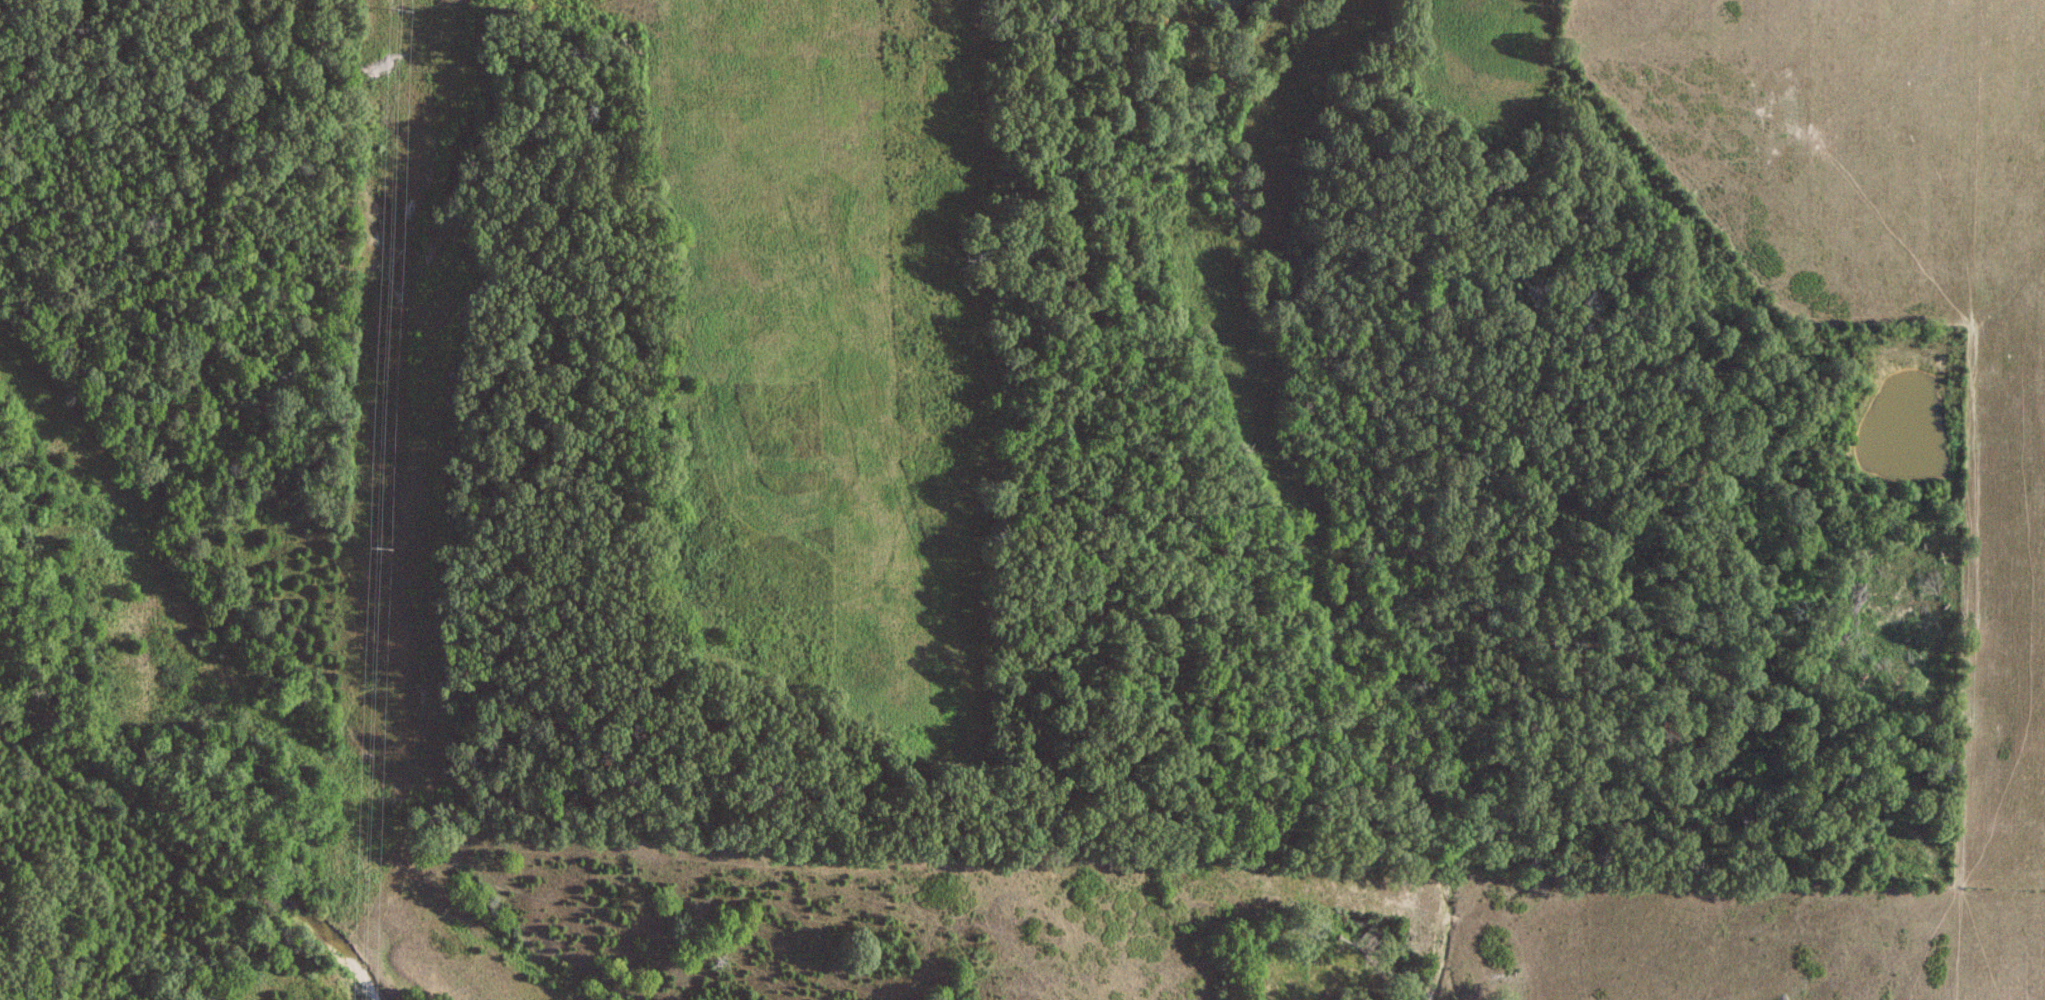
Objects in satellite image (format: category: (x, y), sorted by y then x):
power tower: (381, 553)

